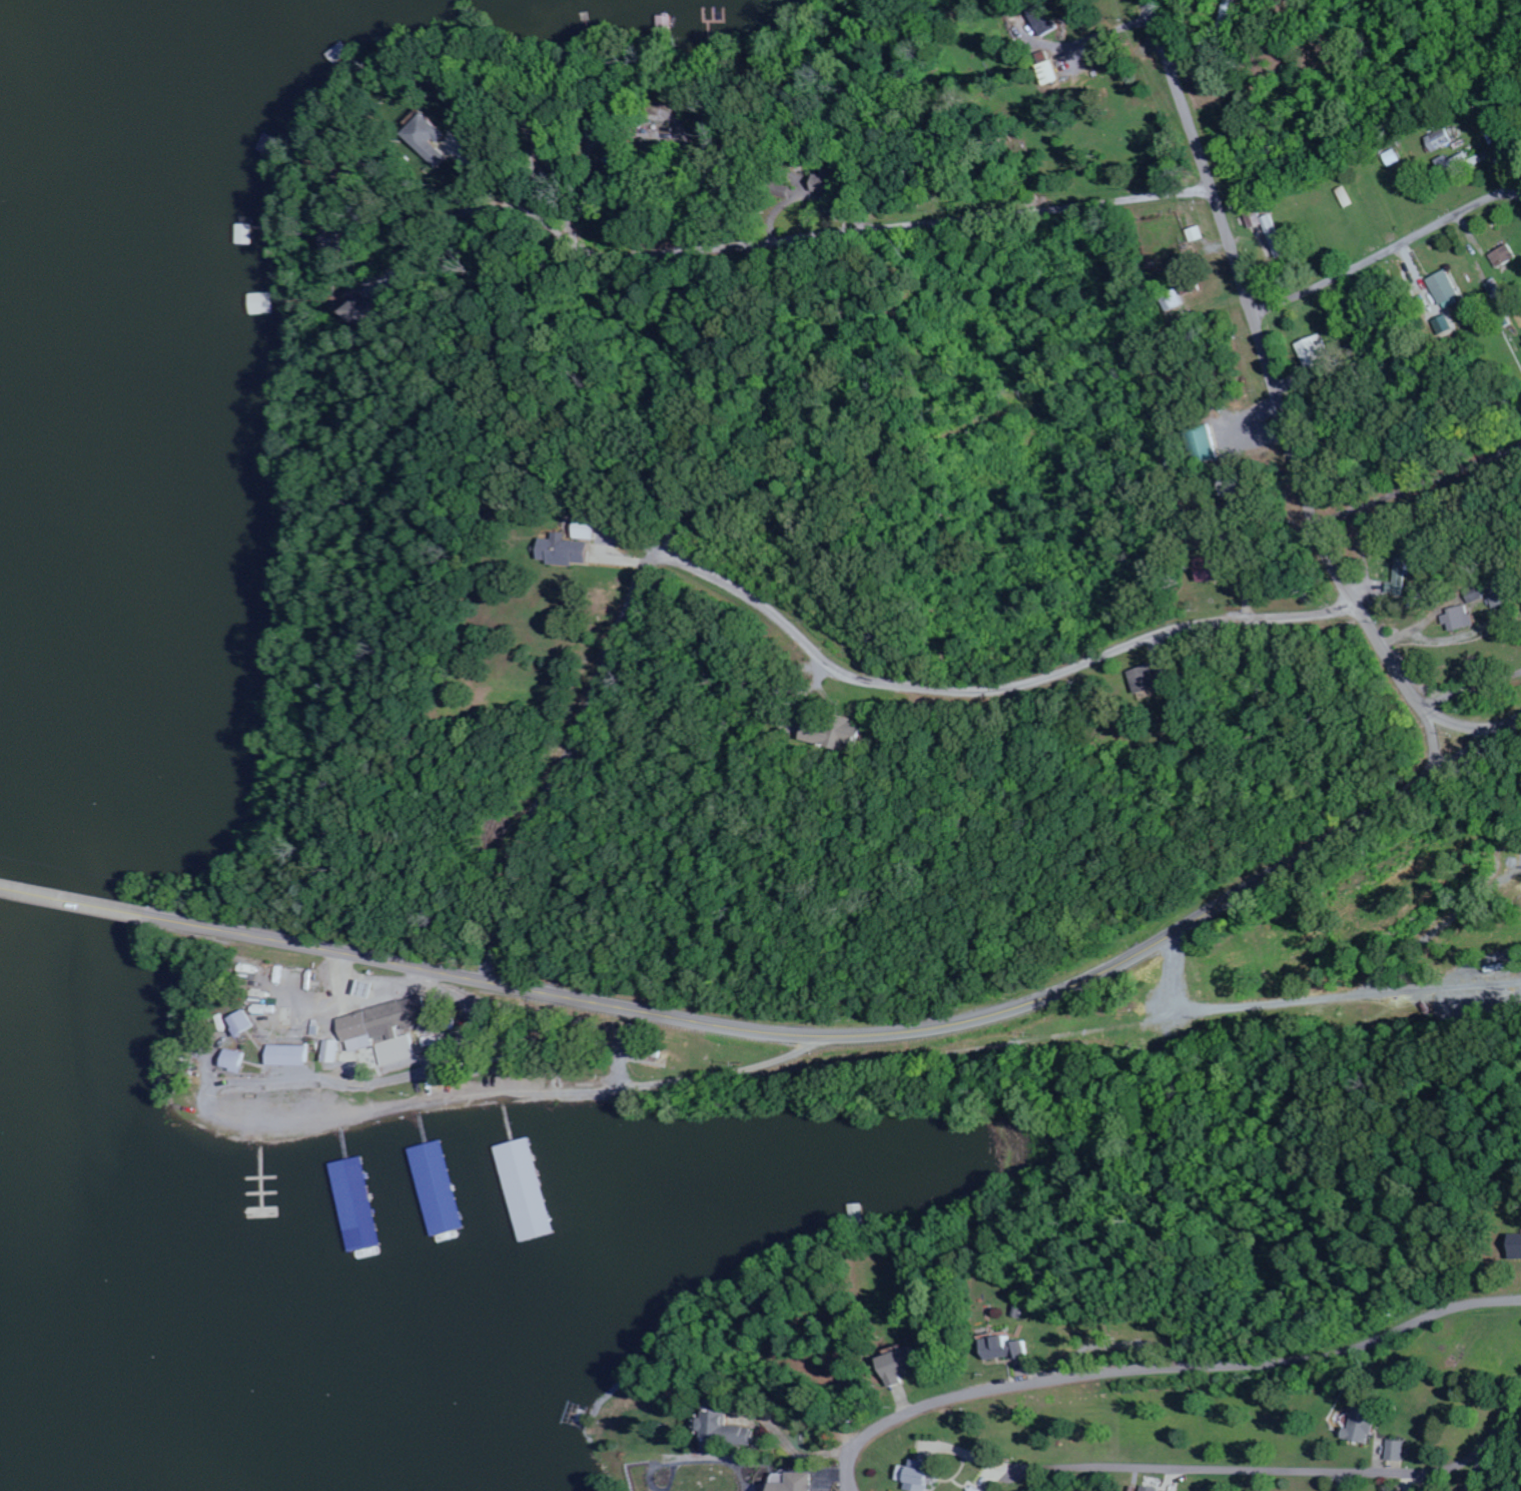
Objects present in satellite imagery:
building: (1041, 20)
building: (1044, 69)
building: (1440, 140)
building: (435, 145)
road: (1520, 196)
building: (1344, 197)
road: (1520, 197)
building: (1194, 234)
building: (335, 240)
road: (788, 241)
road: (1386, 253)
building: (1503, 256)
building: (1444, 290)
building: (1172, 300)
building: (260, 303)
building: (367, 312)
building: (1313, 352)
road: (1279, 402)
road: (966, 449)
road: (1419, 484)
building: (584, 528)
building: (562, 551)
building: (1205, 570)
building: (1401, 578)
building: (1492, 596)
building: (1460, 619)
building: (1143, 680)
road: (1000, 692)
road: (1473, 693)
building: (834, 735)
road: (1434, 738)
road: (552, 759)
river: (84, 762)
road: (77, 901)
building: (363, 991)
building: (242, 1023)
building: (385, 1030)
road: (872, 1034)
building: (333, 1052)
building: (289, 1056)
building: (235, 1061)
building: (525, 1174)
building: (441, 1189)
building: (360, 1204)
building: (1515, 1246)
building: (1003, 1348)
building: (898, 1366)
road: (1162, 1369)
building: (1361, 1426)
building: (722, 1429)
road: (1496, 1444)
building: (1397, 1450)
road: (1261, 1470)
building: (909, 1475)
building: (792, 1483)
building: (970, 1489)
building: (1150, 1489)
building: (1396, 1490)

